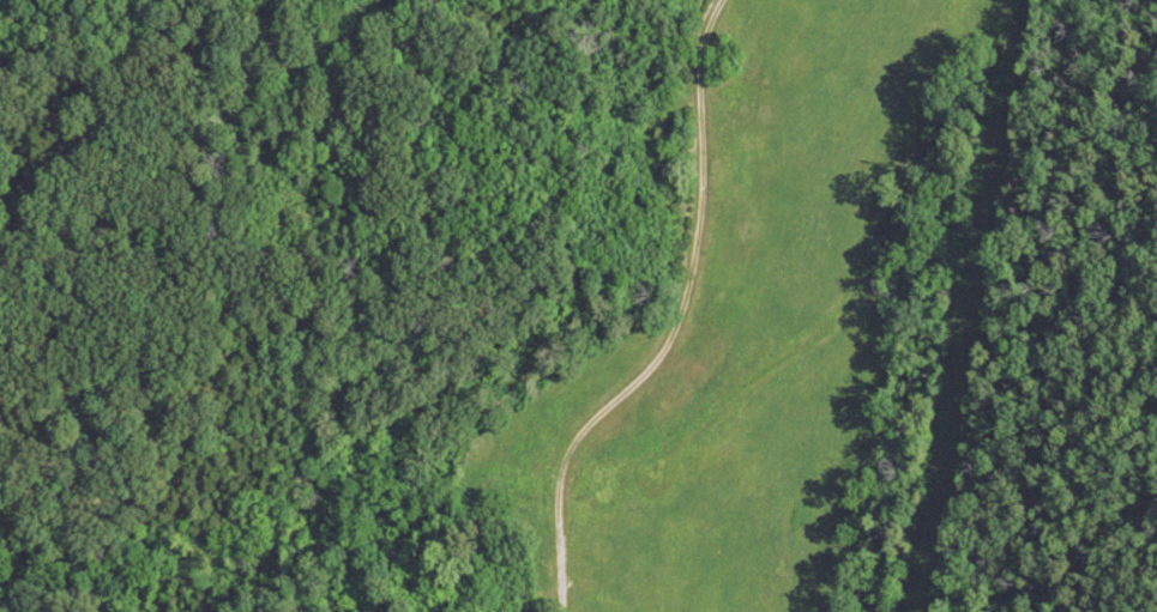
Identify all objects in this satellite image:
road: (689, 327)

